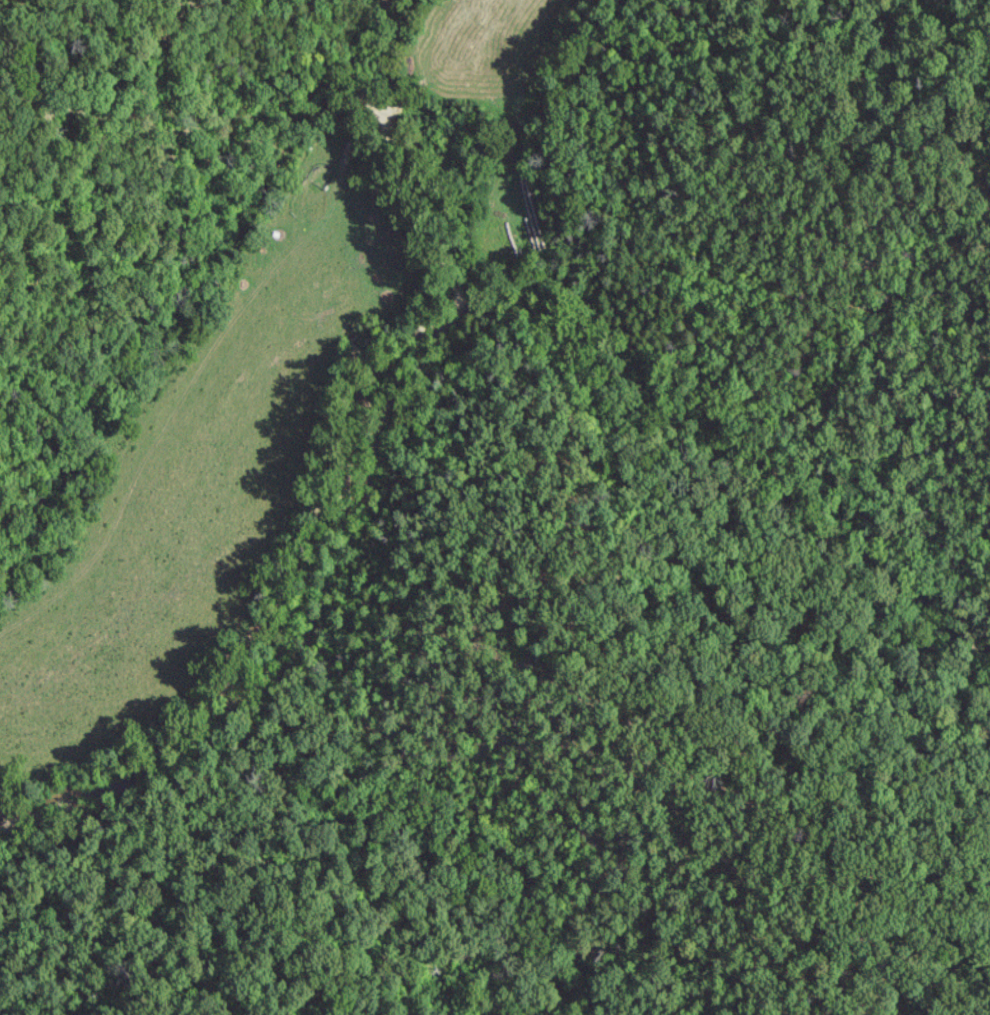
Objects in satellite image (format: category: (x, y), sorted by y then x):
road: (276, 276)

